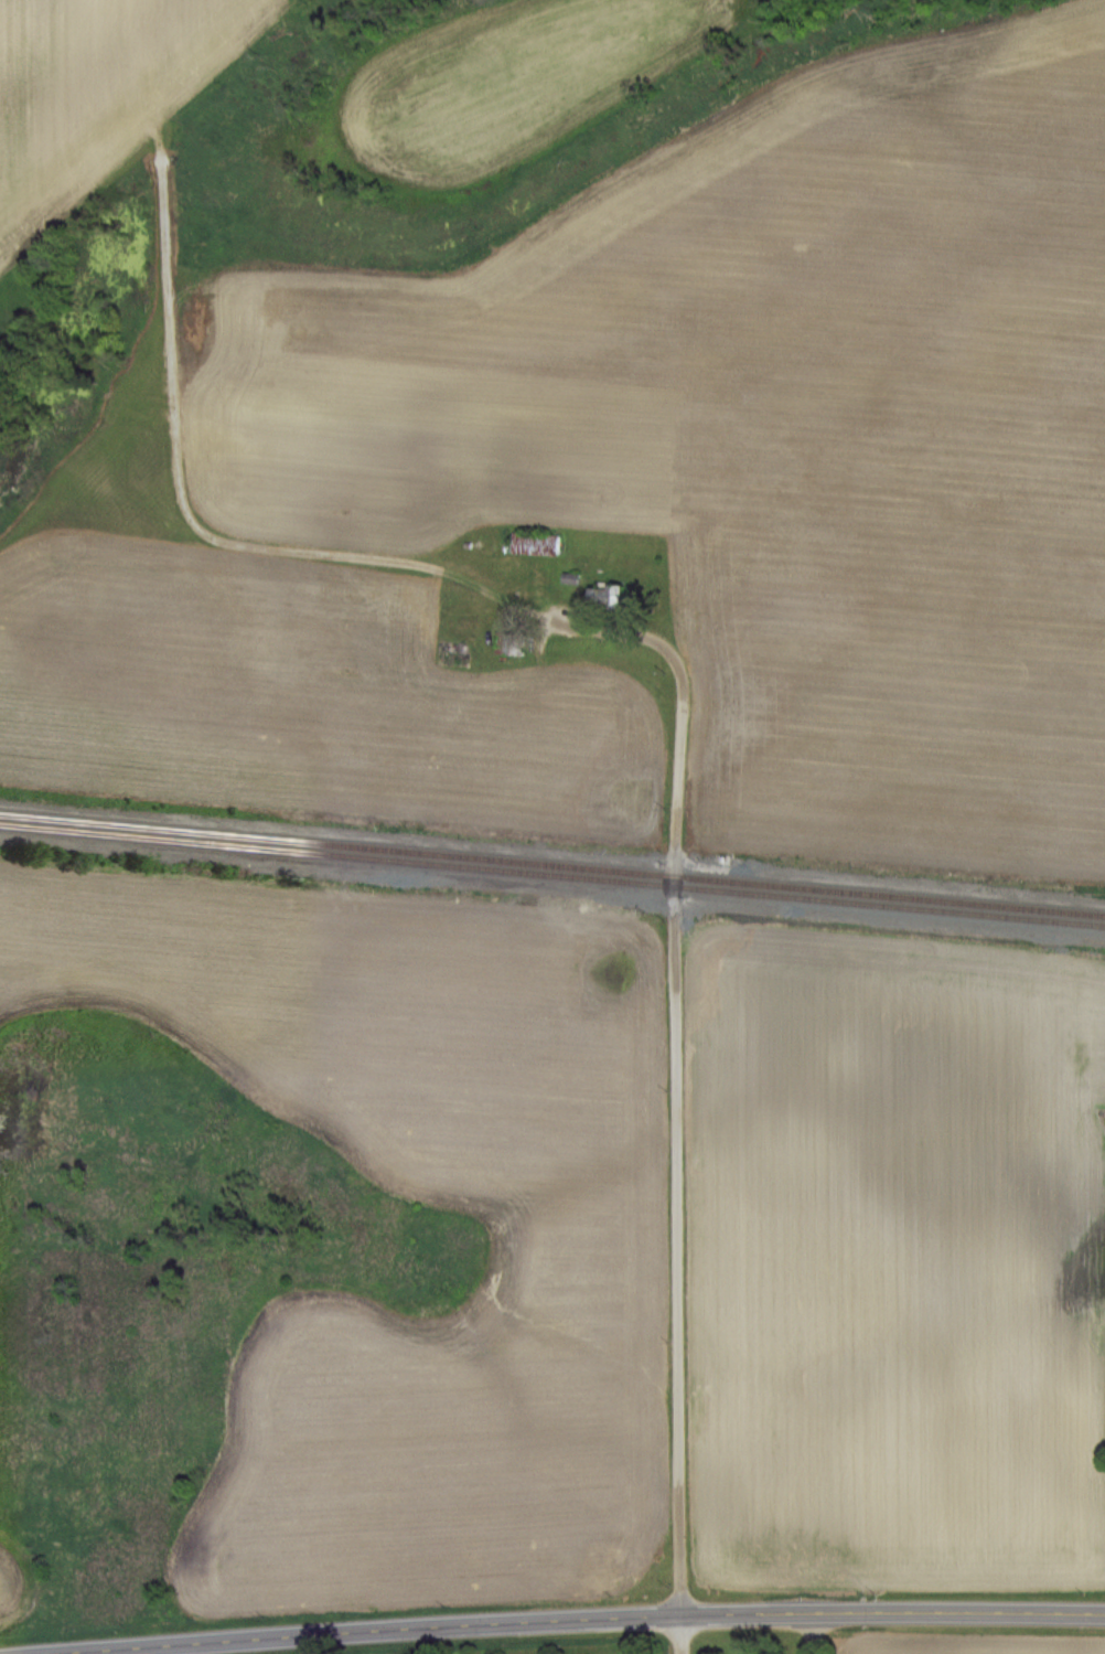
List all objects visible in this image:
building: (596, 595)
railway: (551, 864)
railway: (551, 876)
road: (672, 1117)
road: (581, 1615)

